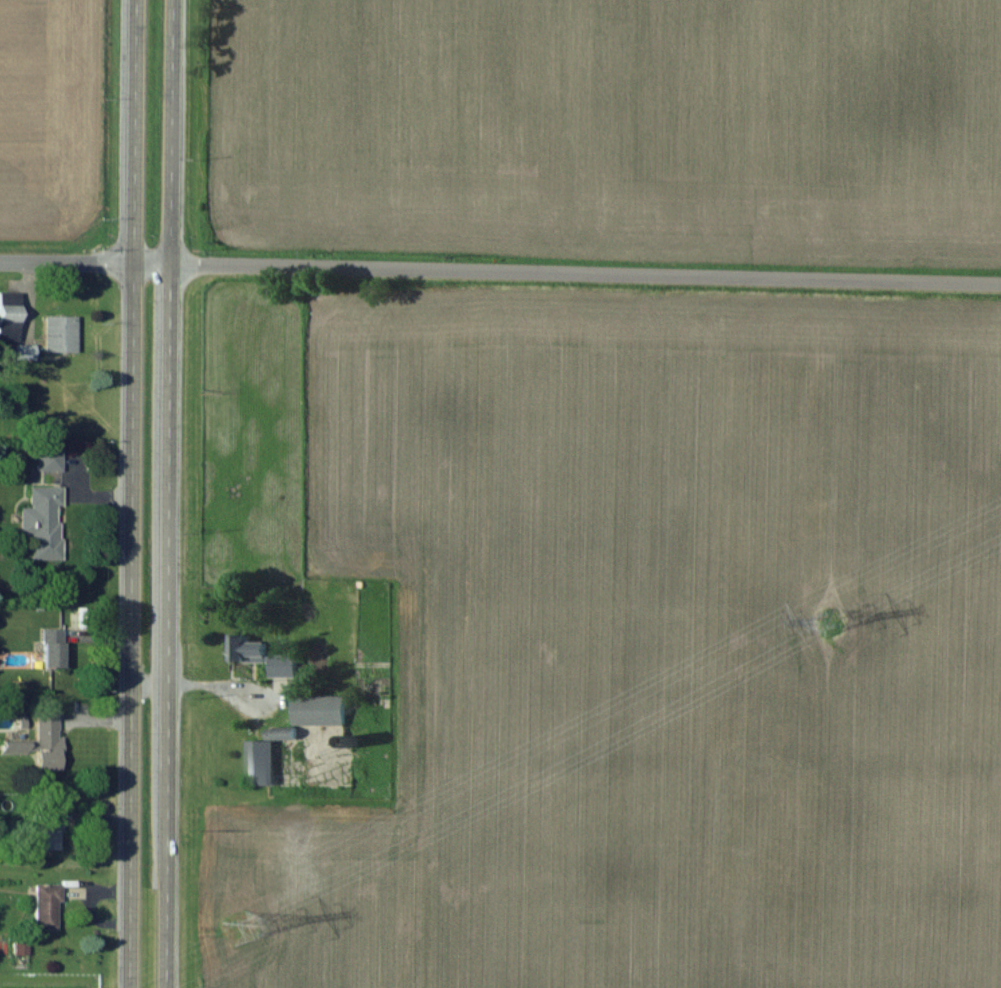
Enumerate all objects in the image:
crop: (609, 128)
road: (135, 131)
road: (170, 132)
road: (84, 263)
road: (585, 273)
building: (9, 316)
building: (59, 333)
building: (23, 352)
building: (49, 458)
building: (43, 521)
power tower: (828, 621)
road: (131, 625)
road: (167, 626)
building: (51, 647)
crop: (648, 649)
building: (262, 656)
building: (318, 710)
building: (39, 743)
building: (260, 762)
building: (45, 832)
building: (45, 906)
power tower: (238, 924)

